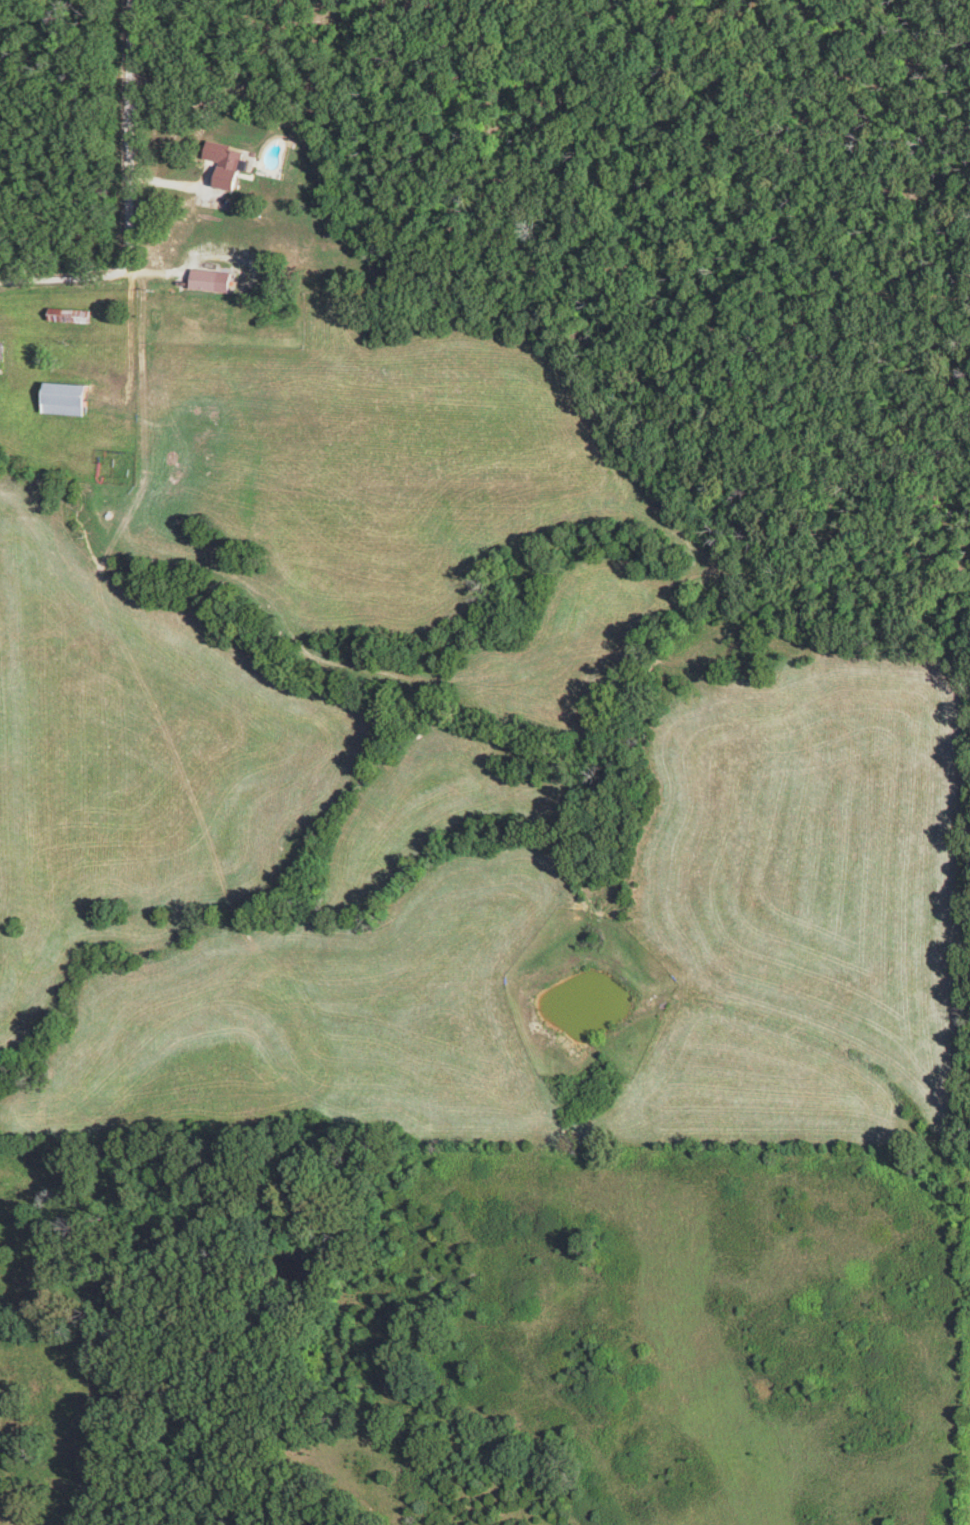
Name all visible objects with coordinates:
building: (223, 165)
road: (132, 200)
building: (206, 281)

